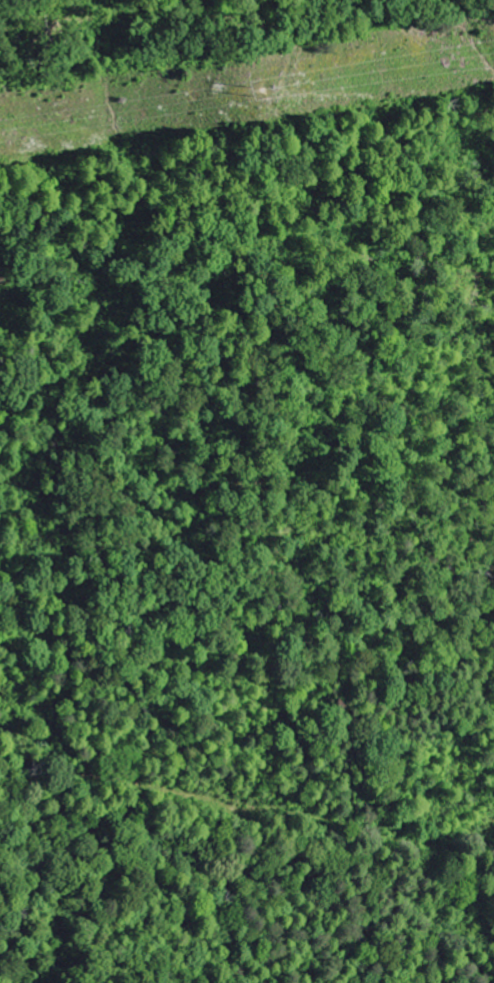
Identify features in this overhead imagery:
road: (244, 794)

